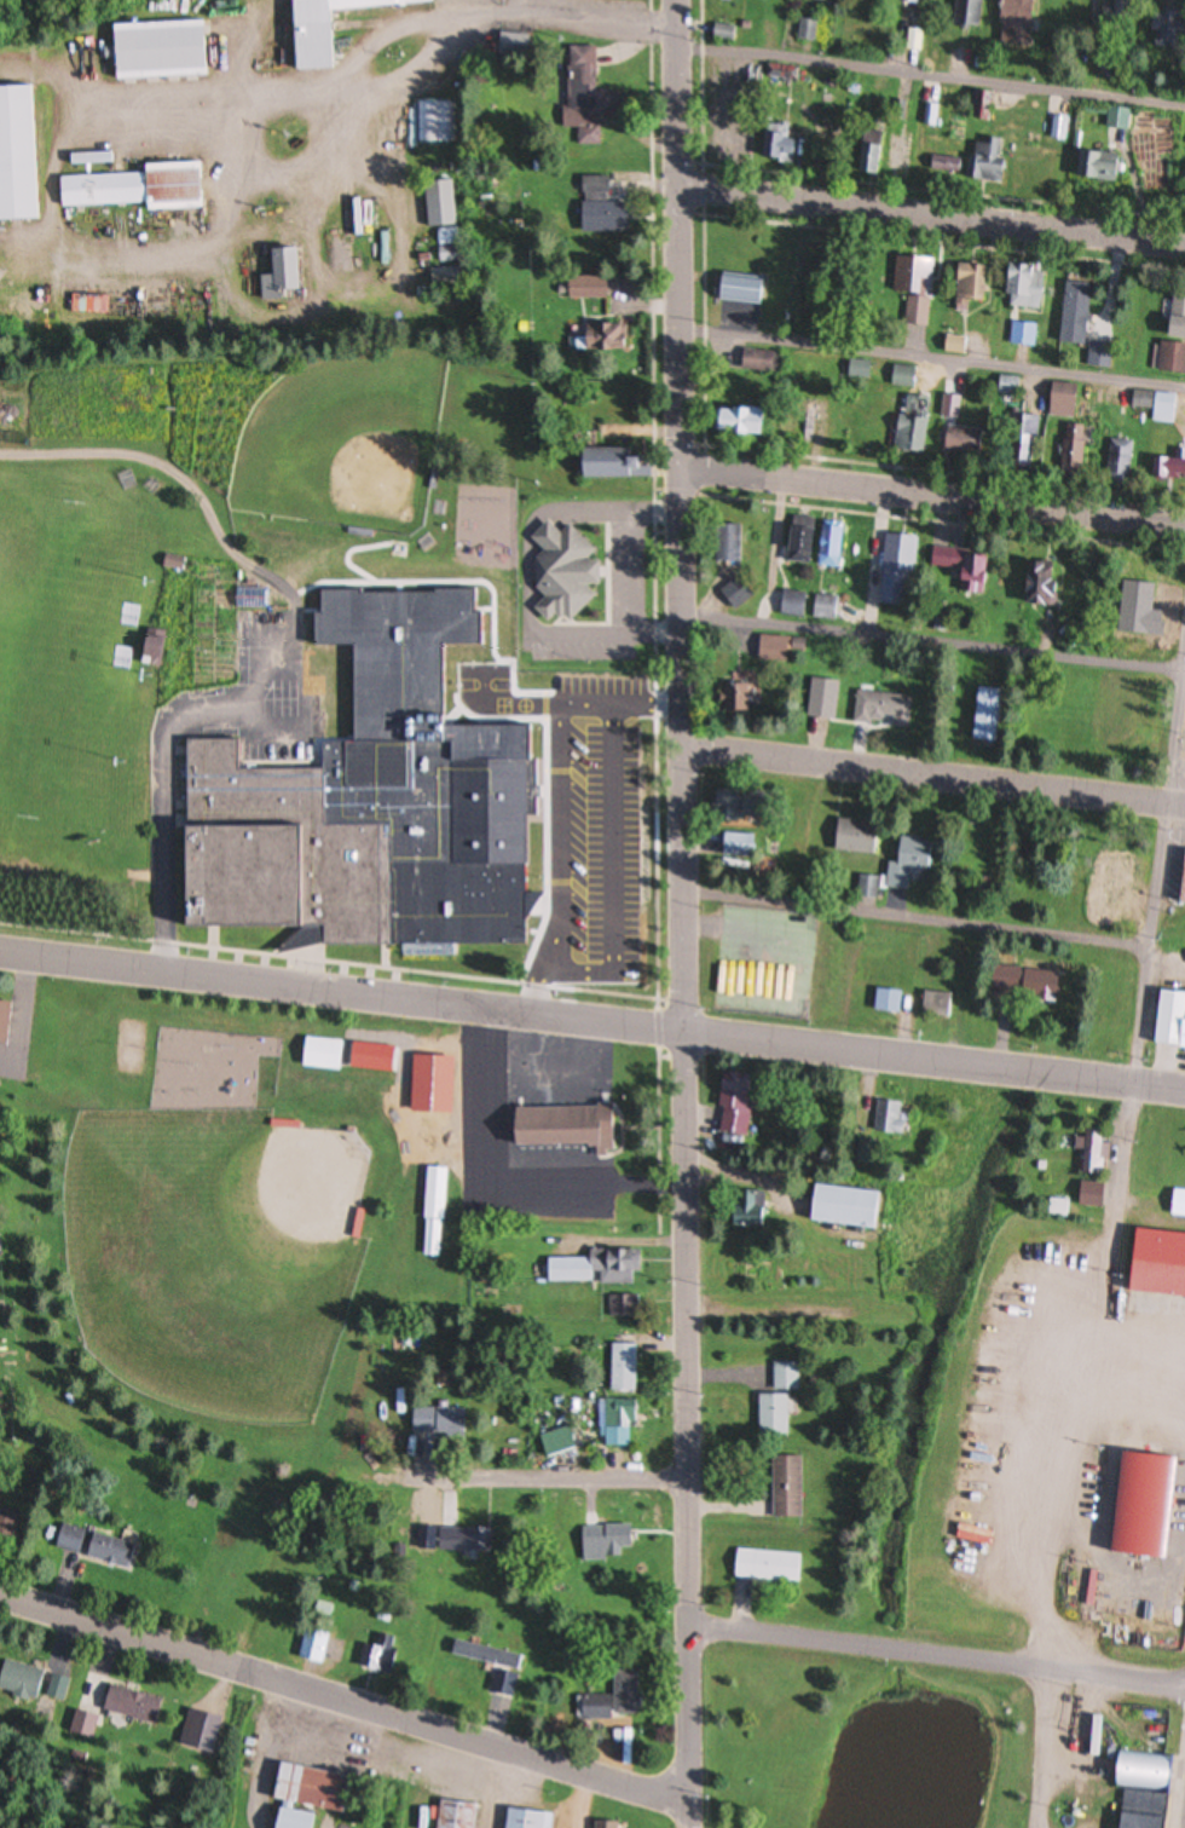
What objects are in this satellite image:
building: (815, 0)
building: (900, 0)
building: (965, 15)
building: (1114, 16)
building: (1013, 22)
building: (324, 28)
building: (1163, 28)
building: (807, 30)
building: (722, 34)
building: (914, 40)
building: (156, 51)
road: (932, 76)
building: (582, 93)
building: (981, 106)
building: (931, 115)
building: (1116, 119)
building: (779, 143)
building: (869, 154)
building: (17, 155)
building: (896, 155)
building: (987, 161)
building: (943, 165)
building: (1098, 167)
building: (137, 189)
building: (599, 209)
road: (932, 215)
building: (434, 217)
building: (782, 263)
building: (278, 275)
building: (967, 286)
building: (914, 287)
building: (584, 288)
building: (738, 288)
building: (1022, 288)
building: (1073, 315)
building: (1175, 318)
building: (1023, 334)
building: (608, 338)
building: (953, 345)
building: (1097, 356)
road: (932, 358)
building: (1169, 358)
building: (764, 363)
building: (856, 370)
building: (902, 376)
building: (1007, 385)
building: (1063, 400)
building: (1156, 404)
building: (949, 405)
building: (799, 411)
building: (735, 423)
building: (911, 426)
building: (958, 437)
building: (1023, 439)
park: (349, 440)
building: (1074, 455)
building: (1118, 460)
building: (608, 465)
building: (1168, 467)
road: (931, 496)
building: (726, 543)
building: (797, 544)
building: (828, 552)
building: (172, 563)
building: (896, 564)
building: (964, 567)
road: (636, 571)
building: (561, 572)
parking lot: (632, 576)
building: (1041, 578)
road: (521, 588)
building: (256, 599)
building: (792, 605)
building: (825, 607)
road: (289, 644)
road: (931, 645)
building: (149, 647)
building: (776, 648)
park: (68, 657)
building: (739, 690)
parking lot: (262, 697)
building: (821, 698)
road: (572, 705)
building: (881, 709)
building: (984, 714)
road: (933, 777)
building: (378, 803)
building: (729, 805)
parking lot: (596, 834)
building: (850, 837)
road: (561, 841)
building: (738, 844)
building: (906, 859)
building: (1116, 869)
road: (615, 876)
building: (1180, 880)
building: (867, 887)
road: (683, 913)
road: (917, 919)
road: (1152, 939)
building: (433, 951)
building: (1022, 984)
road: (539, 994)
building: (886, 1001)
building: (936, 1004)
building: (1168, 1020)
building: (2, 1021)
road: (591, 1023)
park: (129, 1048)
building: (324, 1055)
building: (429, 1084)
building: (733, 1102)
building: (885, 1118)
building: (557, 1126)
building: (1092, 1153)
building: (1089, 1194)
building: (1177, 1204)
building: (842, 1207)
building: (1057, 1210)
building: (433, 1212)
building: (747, 1212)
building: (357, 1223)
park: (214, 1256)
park: (242, 1256)
building: (1155, 1264)
building: (592, 1268)
building: (619, 1307)
road: (771, 1313)
building: (622, 1367)
building: (786, 1376)
building: (771, 1414)
road: (326, 1418)
building: (438, 1422)
building: (617, 1423)
road: (1070, 1442)
road: (555, 1478)
building: (1, 1487)
building: (785, 1487)
building: (1141, 1505)
building: (7, 1524)
building: (606, 1538)
building: (463, 1540)
building: (92, 1544)
building: (765, 1567)
building: (323, 1609)
building: (316, 1648)
building: (475, 1653)
building: (380, 1655)
road: (936, 1656)
building: (18, 1680)
building: (57, 1688)
building: (624, 1695)
road: (345, 1701)
building: (129, 1705)
building: (591, 1708)
building: (82, 1725)
park: (859, 1737)
road: (1042, 1748)
building: (1137, 1771)
building: (304, 1797)
building: (1138, 1810)
building: (455, 1815)
building: (525, 1820)
building: (603, 1824)

